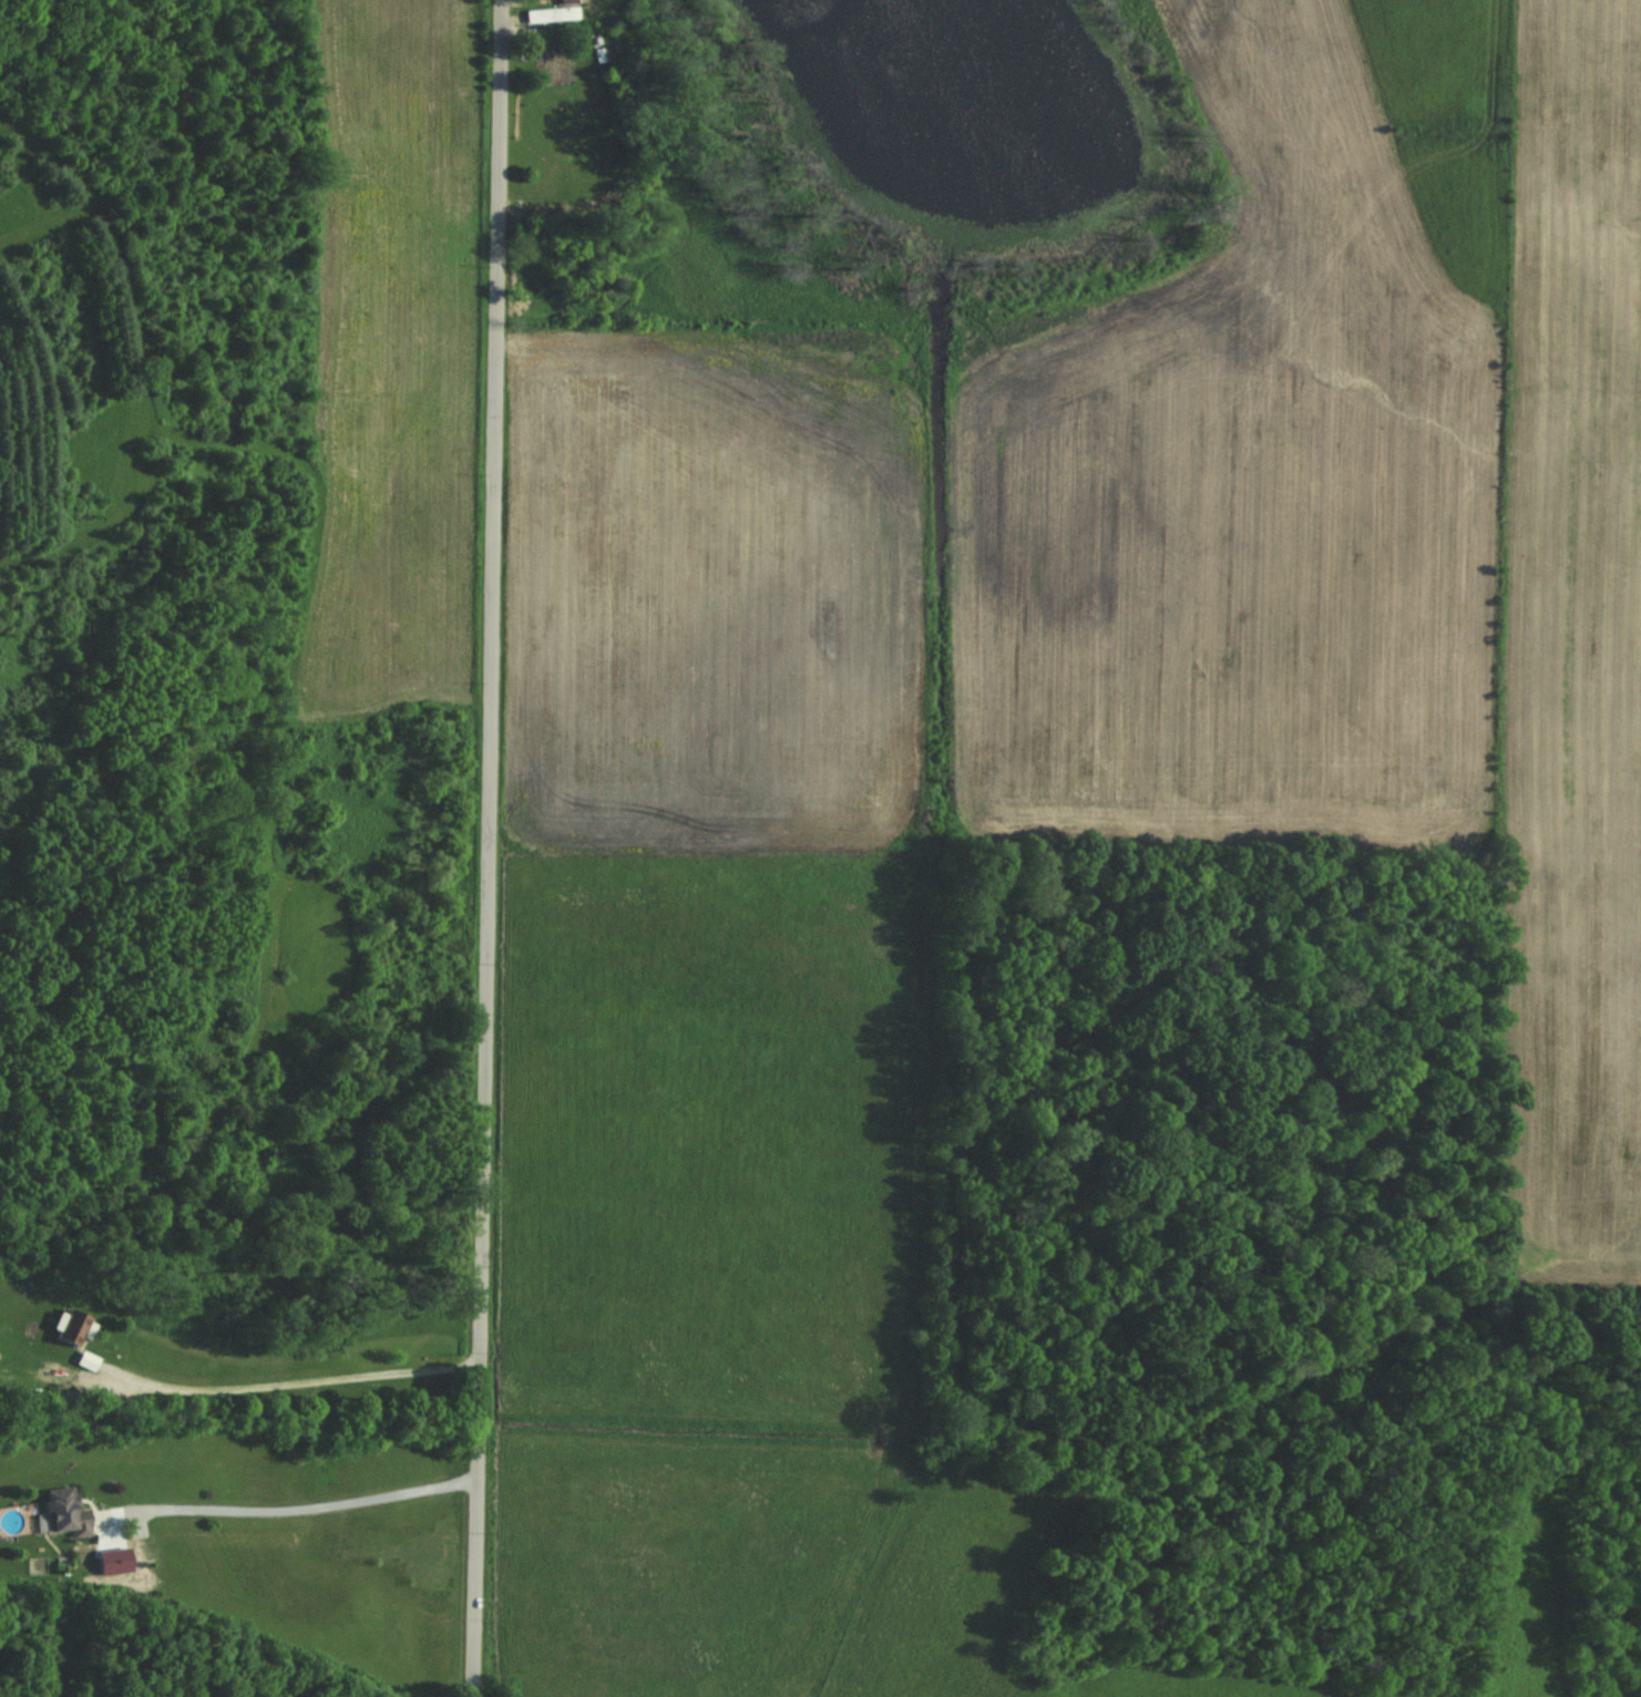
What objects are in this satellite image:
building: (551, 14)
road: (490, 848)
building: (73, 1329)
road: (296, 1378)
road: (296, 1503)
building: (65, 1514)

